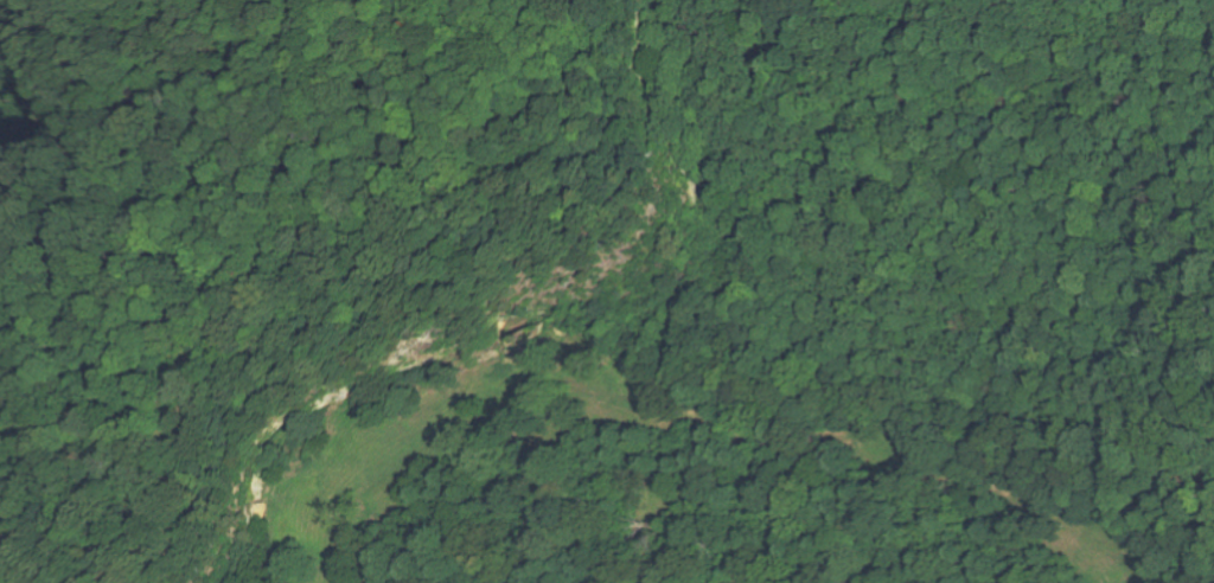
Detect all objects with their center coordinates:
road: (483, 14)
road: (1, 95)
road: (20, 133)
road: (321, 249)

